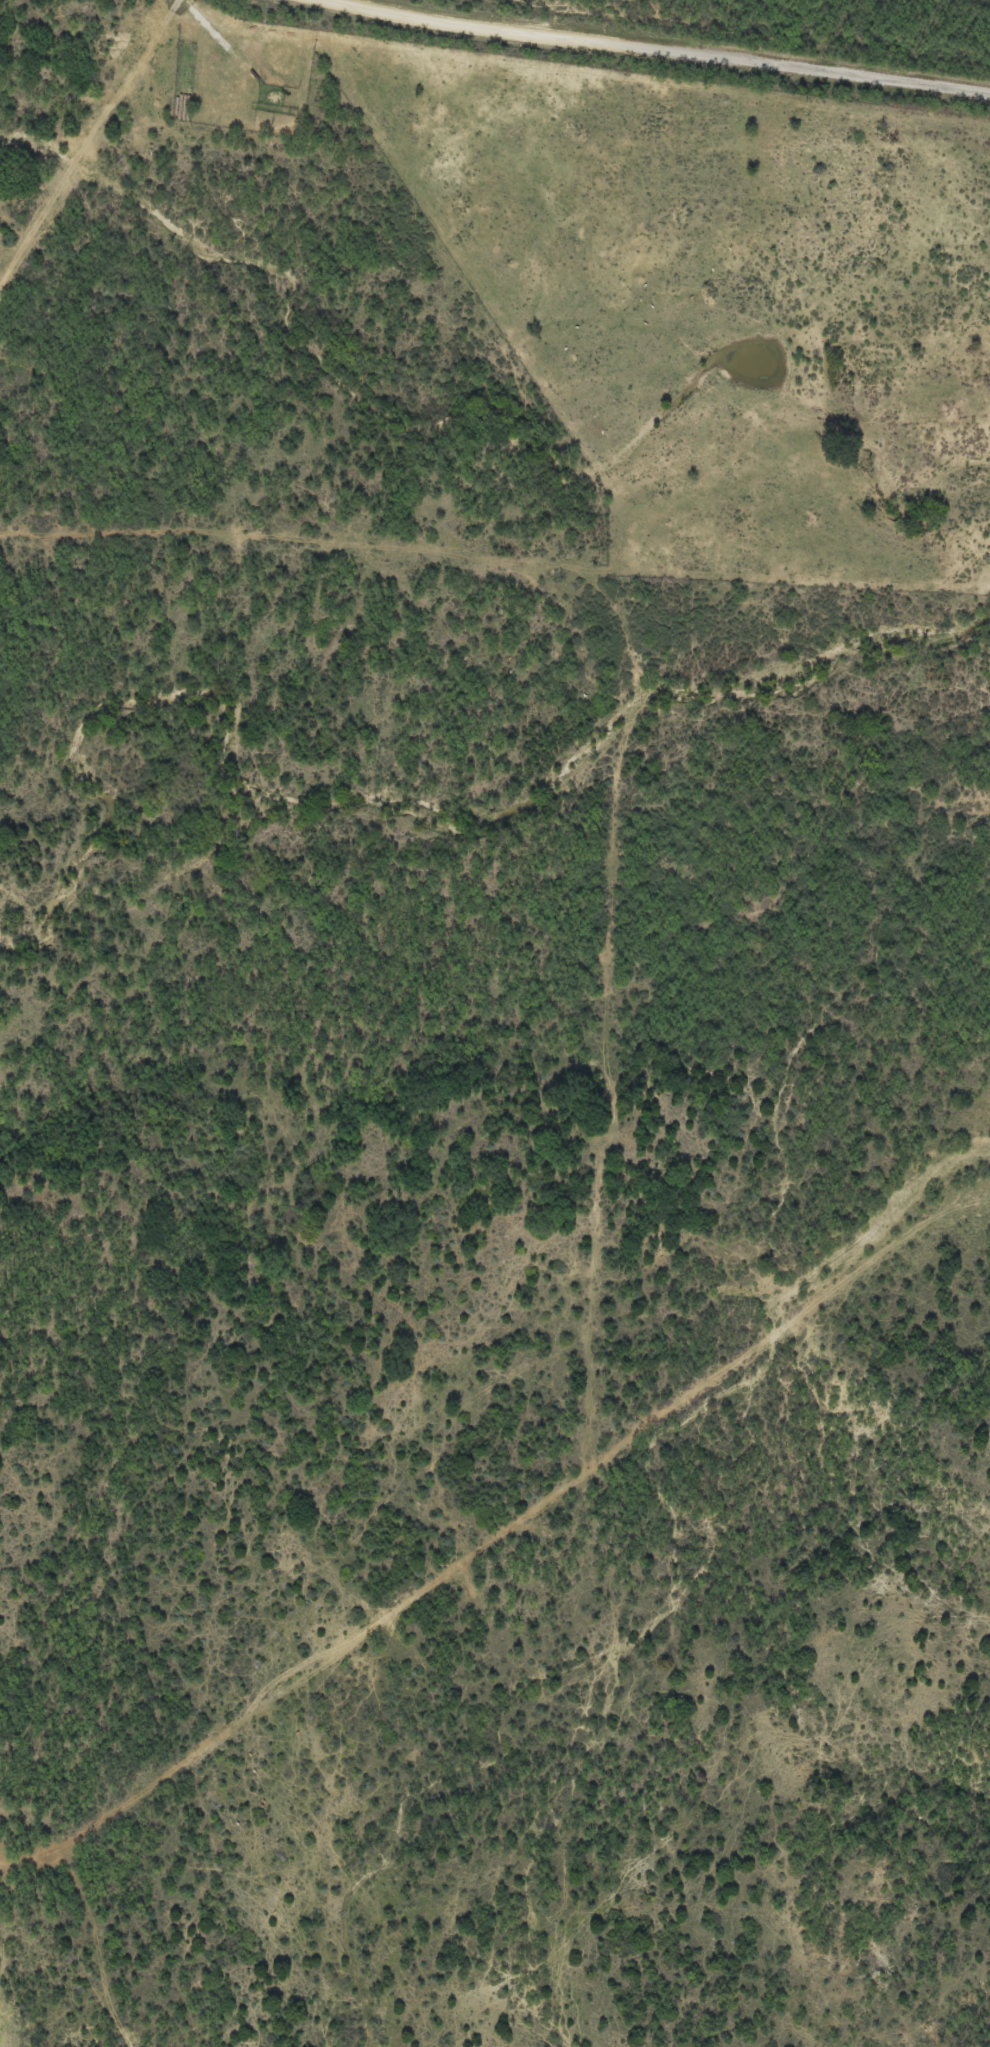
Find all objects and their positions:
road: (657, 60)

